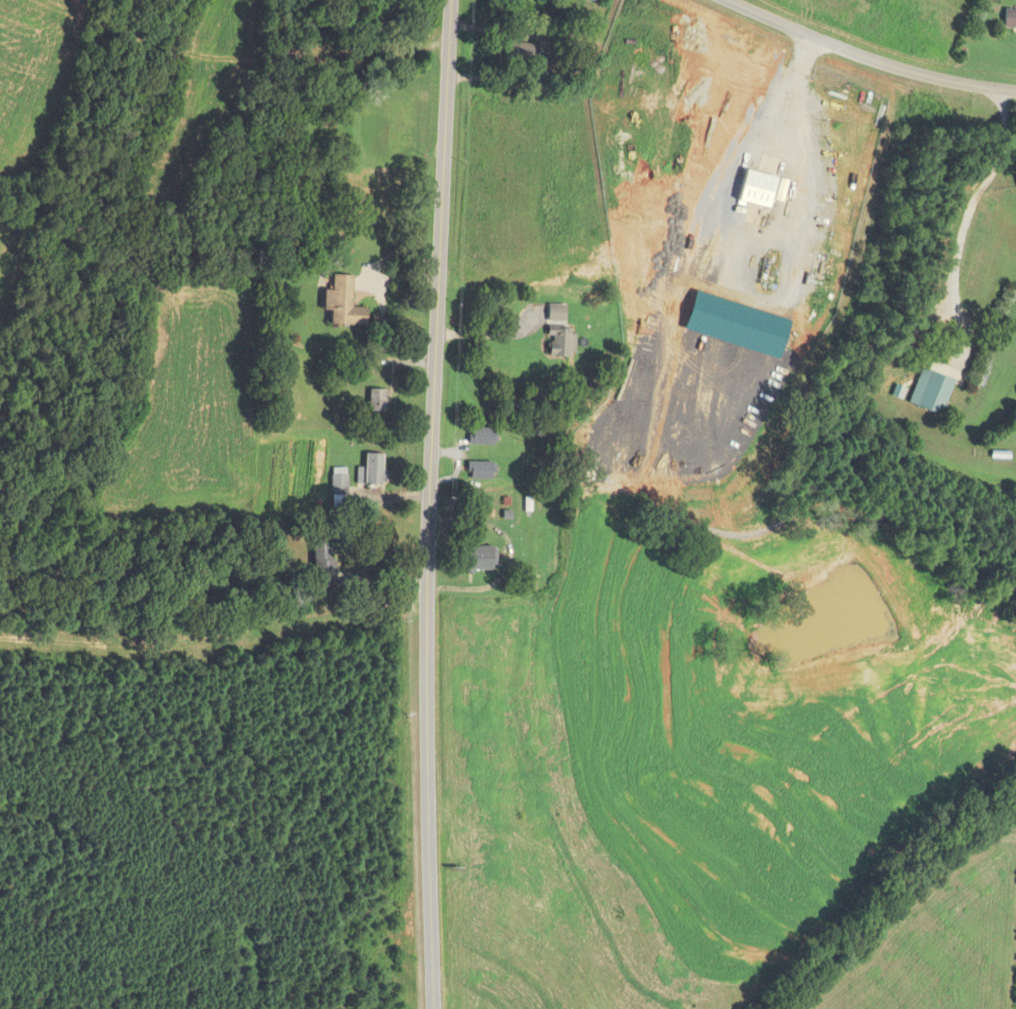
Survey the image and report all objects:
building: (597, 0)
building: (1008, 19)
building: (521, 51)
road: (871, 59)
building: (370, 198)
road: (979, 208)
building: (344, 303)
road: (491, 333)
building: (557, 343)
building: (378, 401)
building: (480, 437)
building: (375, 470)
building: (480, 471)
building: (339, 486)
road: (428, 504)
building: (477, 558)
building: (324, 565)

